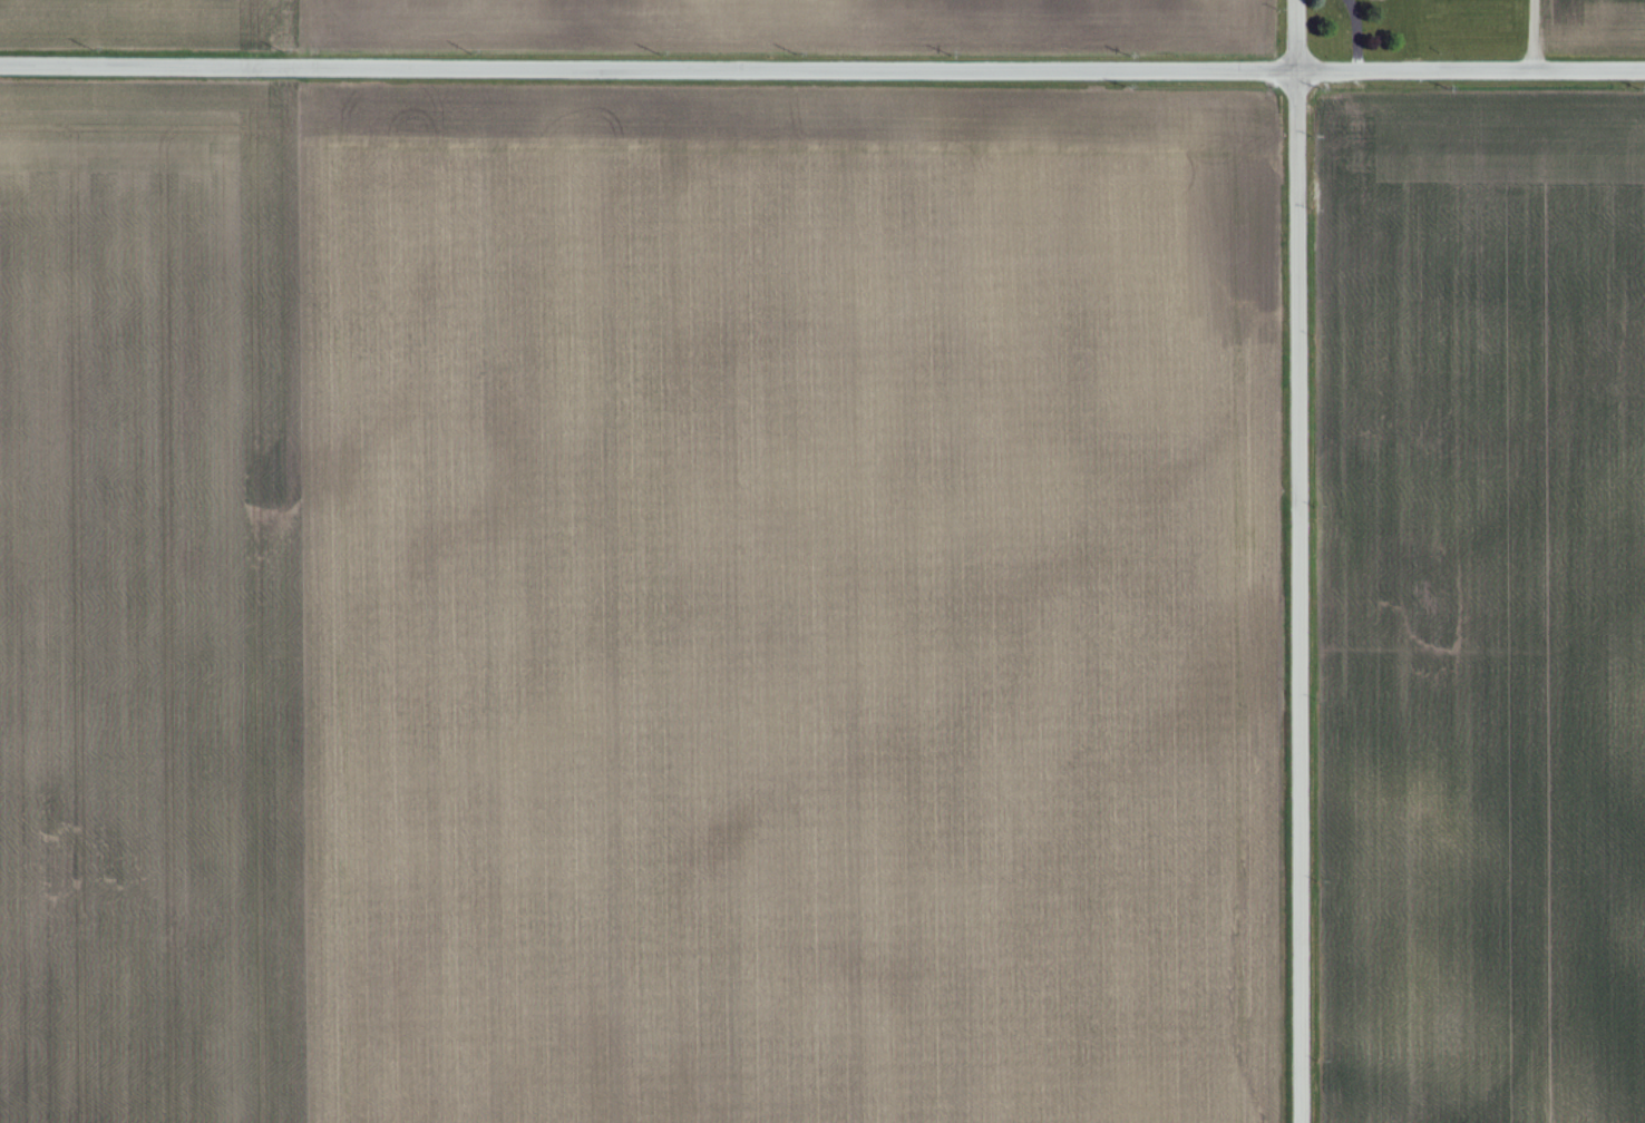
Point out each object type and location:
road: (1534, 36)
road: (821, 68)
road: (1300, 561)

